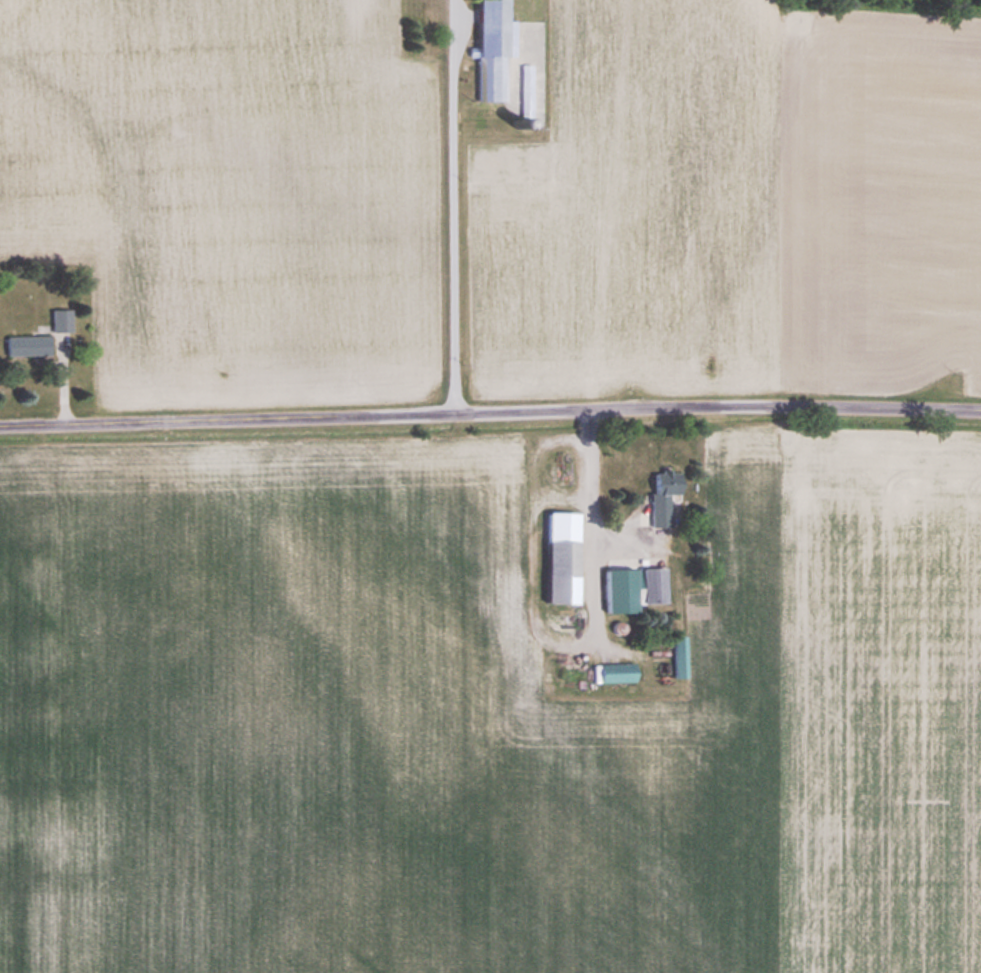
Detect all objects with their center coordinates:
building: (493, 50)
road: (452, 205)
building: (60, 320)
building: (27, 345)
road: (490, 410)
building: (665, 497)
building: (563, 557)
building: (653, 585)
building: (620, 589)
building: (679, 656)
building: (617, 672)

